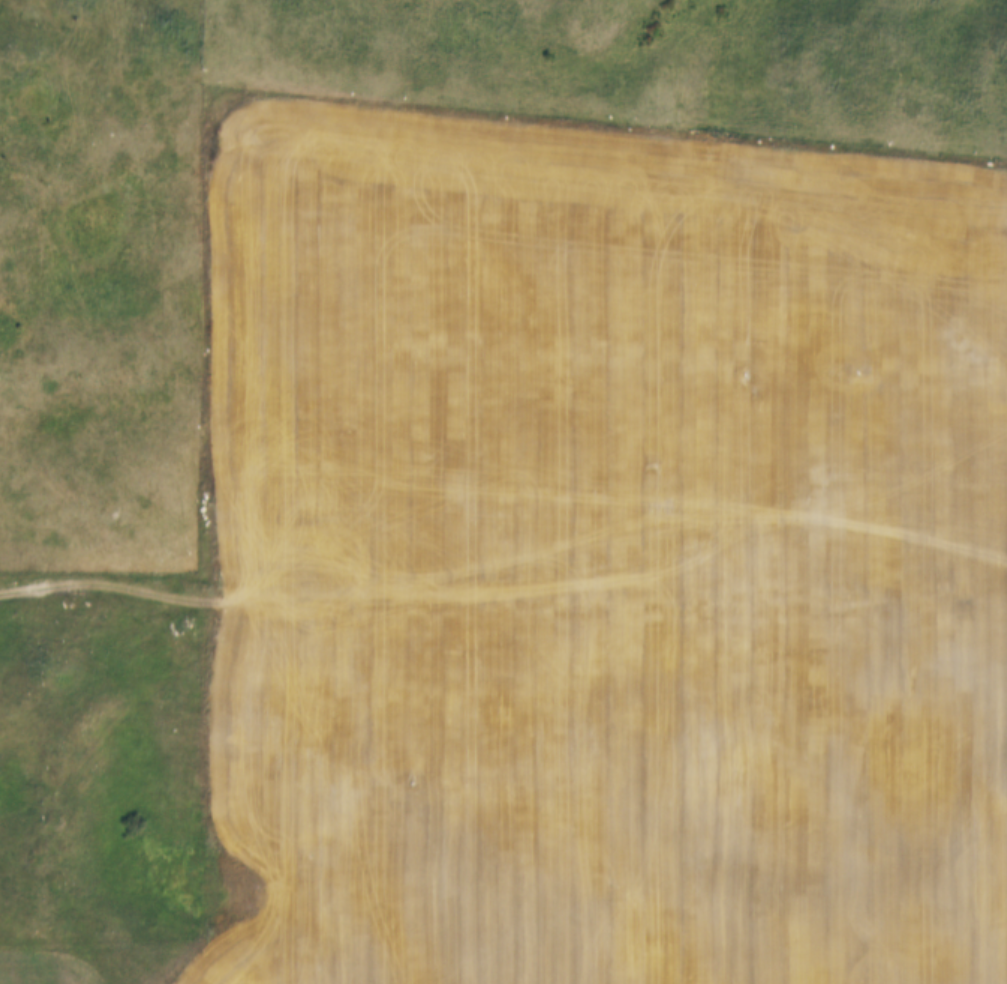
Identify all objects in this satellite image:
road: (502, 599)

